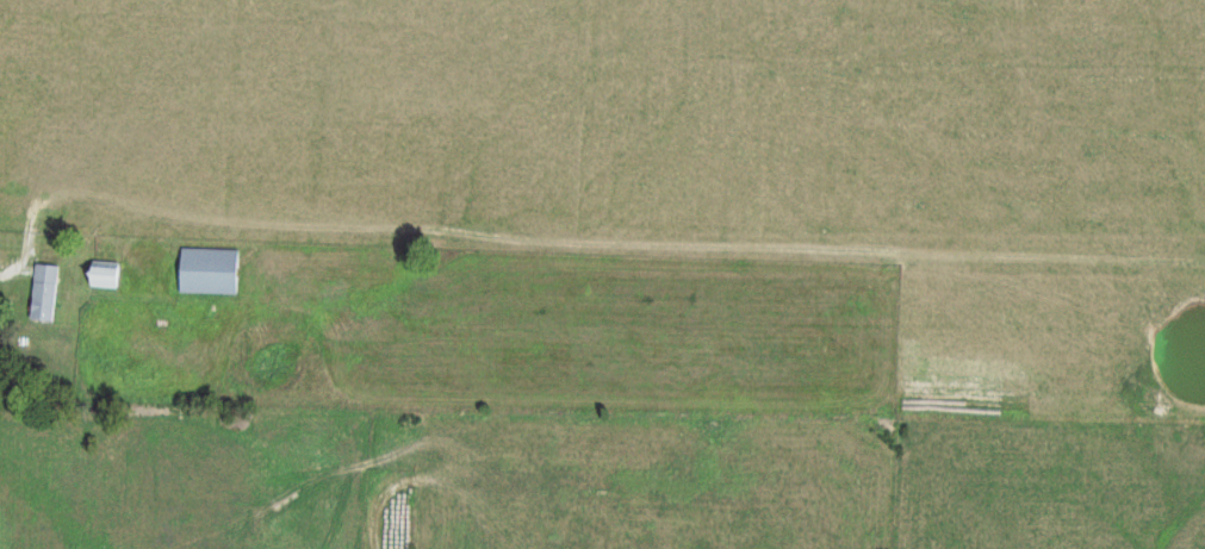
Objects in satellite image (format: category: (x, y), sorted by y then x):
road: (609, 243)
road: (14, 264)
building: (207, 273)
building: (42, 294)

